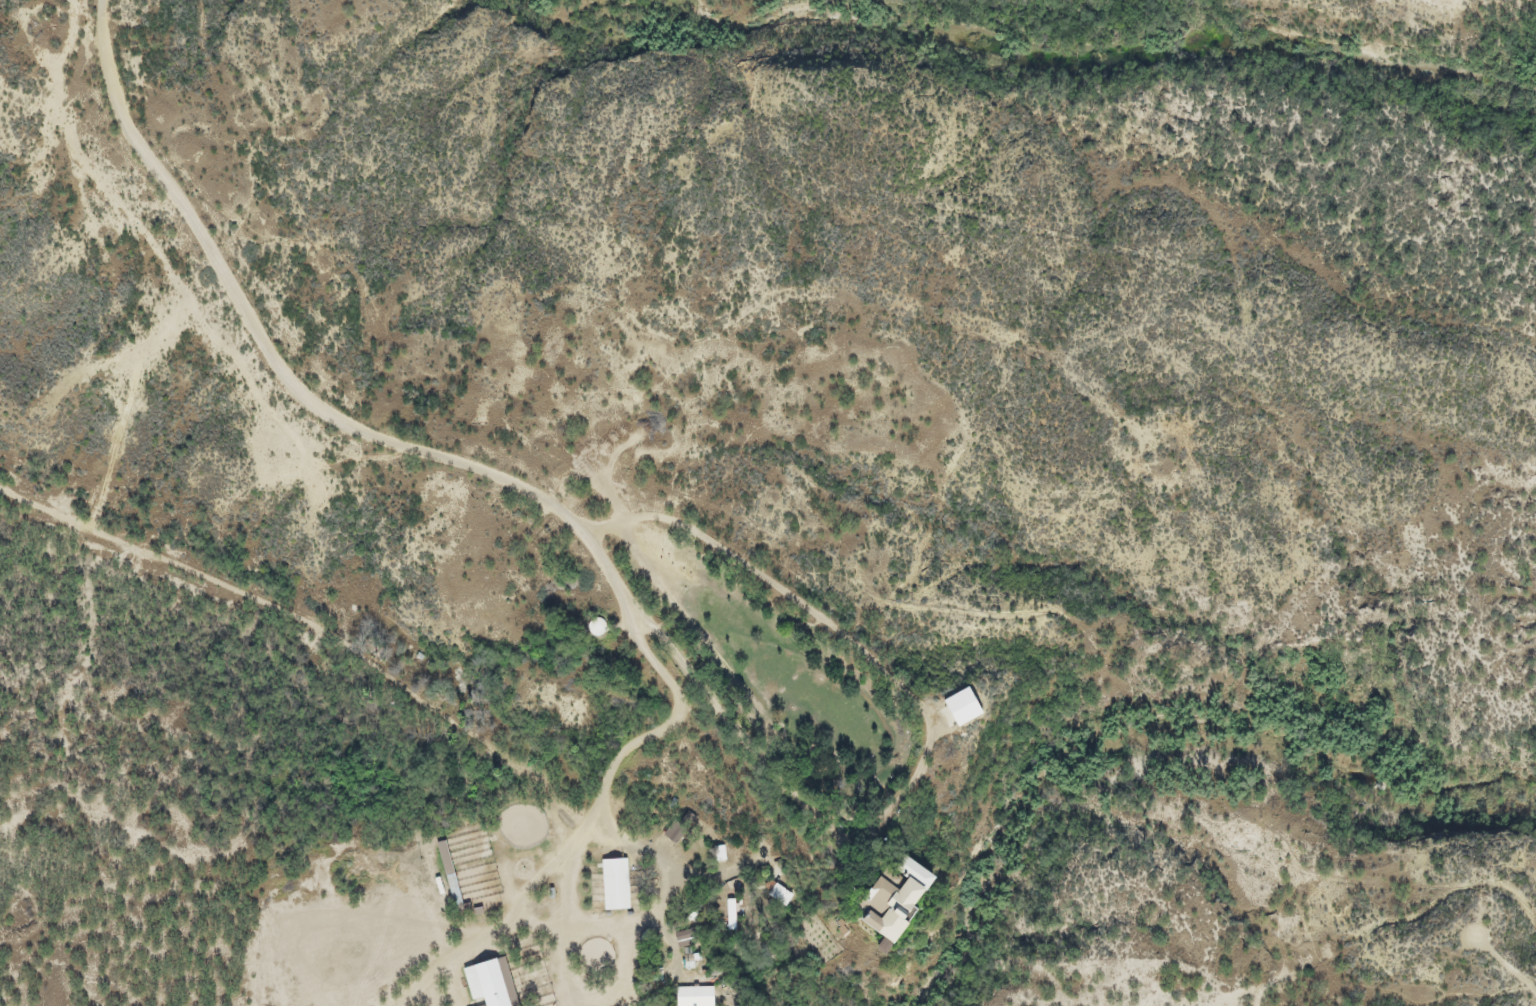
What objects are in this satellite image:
road: (469, 492)
building: (958, 699)
building: (452, 882)
building: (889, 885)
building: (693, 991)

